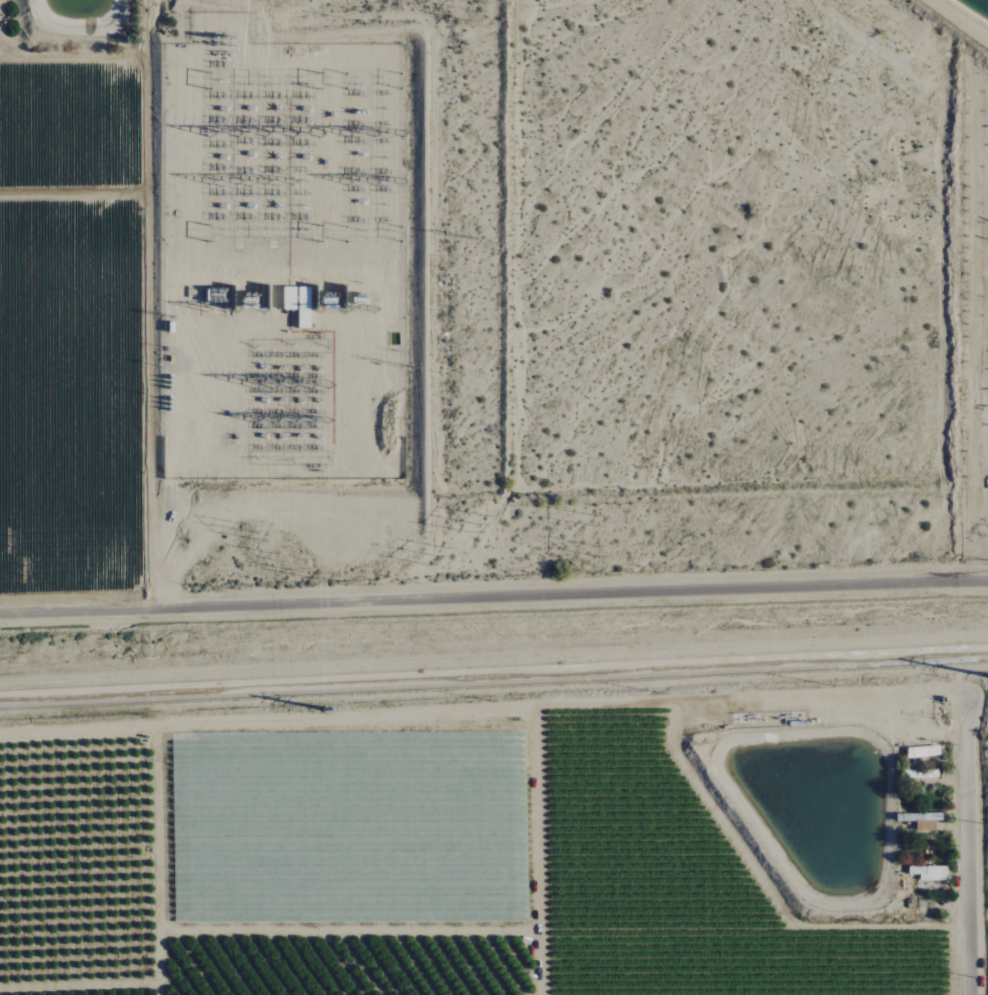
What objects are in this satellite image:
power tower: (367, 9)
power tower: (482, 11)
power tower: (479, 245)
power substation: (284, 261)
building: (289, 298)
building: (304, 308)
road: (201, 372)
power tower: (596, 521)
power tower: (479, 524)
power tower: (249, 536)
power tower: (8, 540)
road: (169, 544)
power tower: (596, 552)
power tower: (443, 554)
power tower: (280, 563)
power tower: (24, 571)
road: (493, 596)
power tower: (323, 708)
road: (964, 858)

